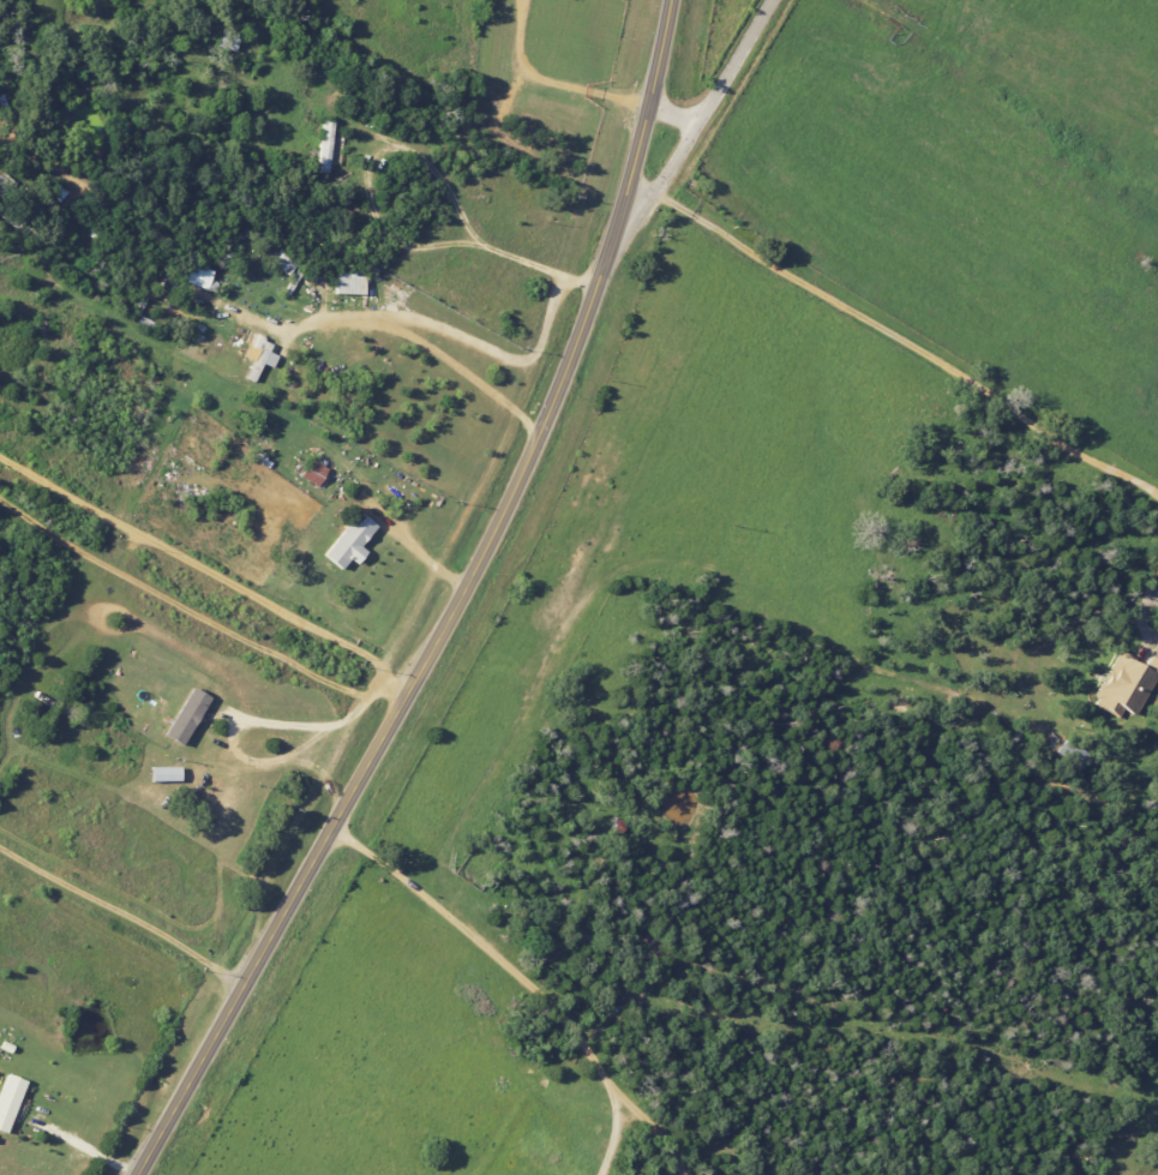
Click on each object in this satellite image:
building: (228, 40)
road: (713, 100)
building: (324, 145)
road: (409, 149)
building: (5, 185)
building: (56, 192)
building: (198, 276)
building: (349, 283)
road: (893, 338)
road: (475, 342)
building: (260, 360)
road: (455, 366)
building: (312, 472)
building: (349, 542)
road: (209, 569)
road: (1140, 597)
road: (451, 607)
building: (1126, 684)
building: (185, 717)
road: (250, 721)
building: (164, 774)
road: (323, 774)
road: (120, 915)
road: (524, 983)
building: (8, 1101)
road: (610, 1138)
road: (84, 1150)

